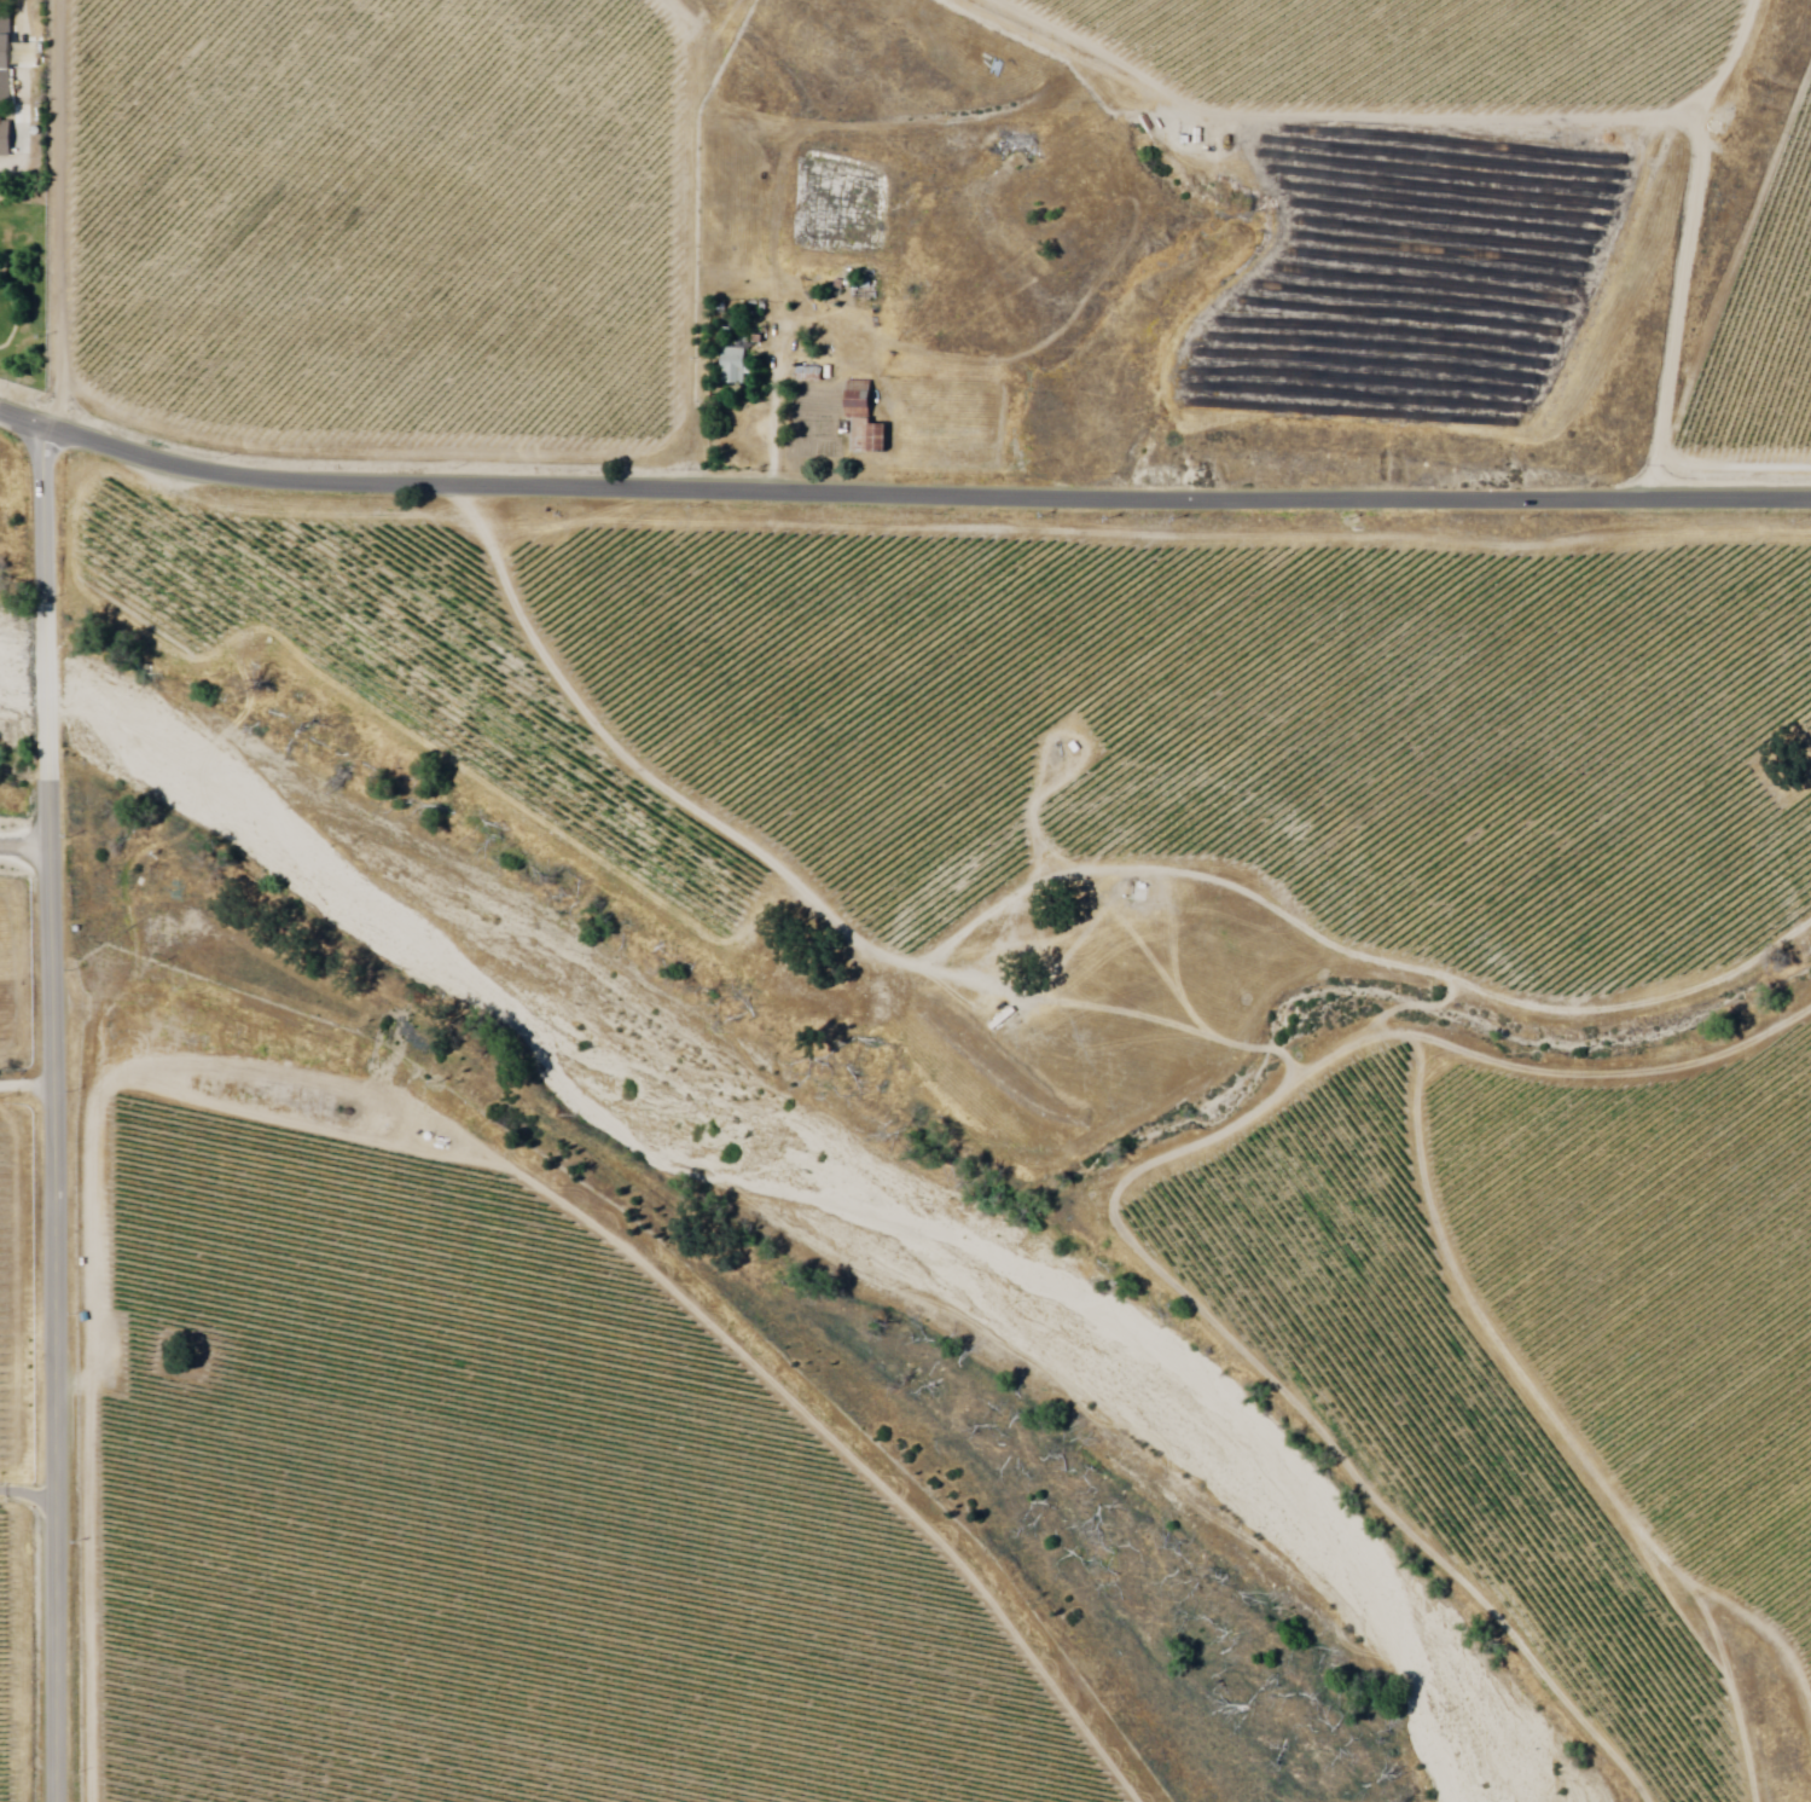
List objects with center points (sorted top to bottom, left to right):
building: (7, 60)
storage tank: (39, 132)
building: (6, 139)
building: (735, 366)
building: (807, 375)
building: (864, 416)
road: (900, 492)
river: (423, 881)
road: (25, 1083)
road: (51, 1111)
river: (1221, 1413)

